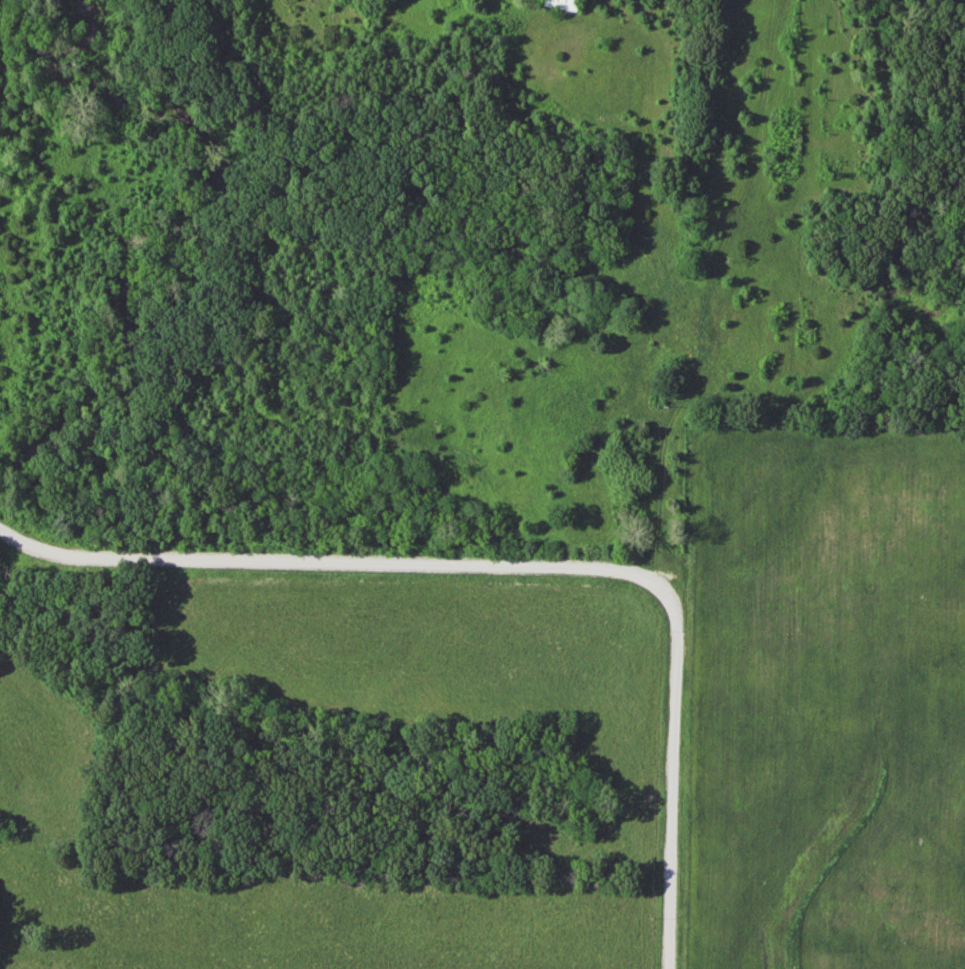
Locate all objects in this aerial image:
building: (557, 4)
river: (186, 236)
road: (522, 566)

